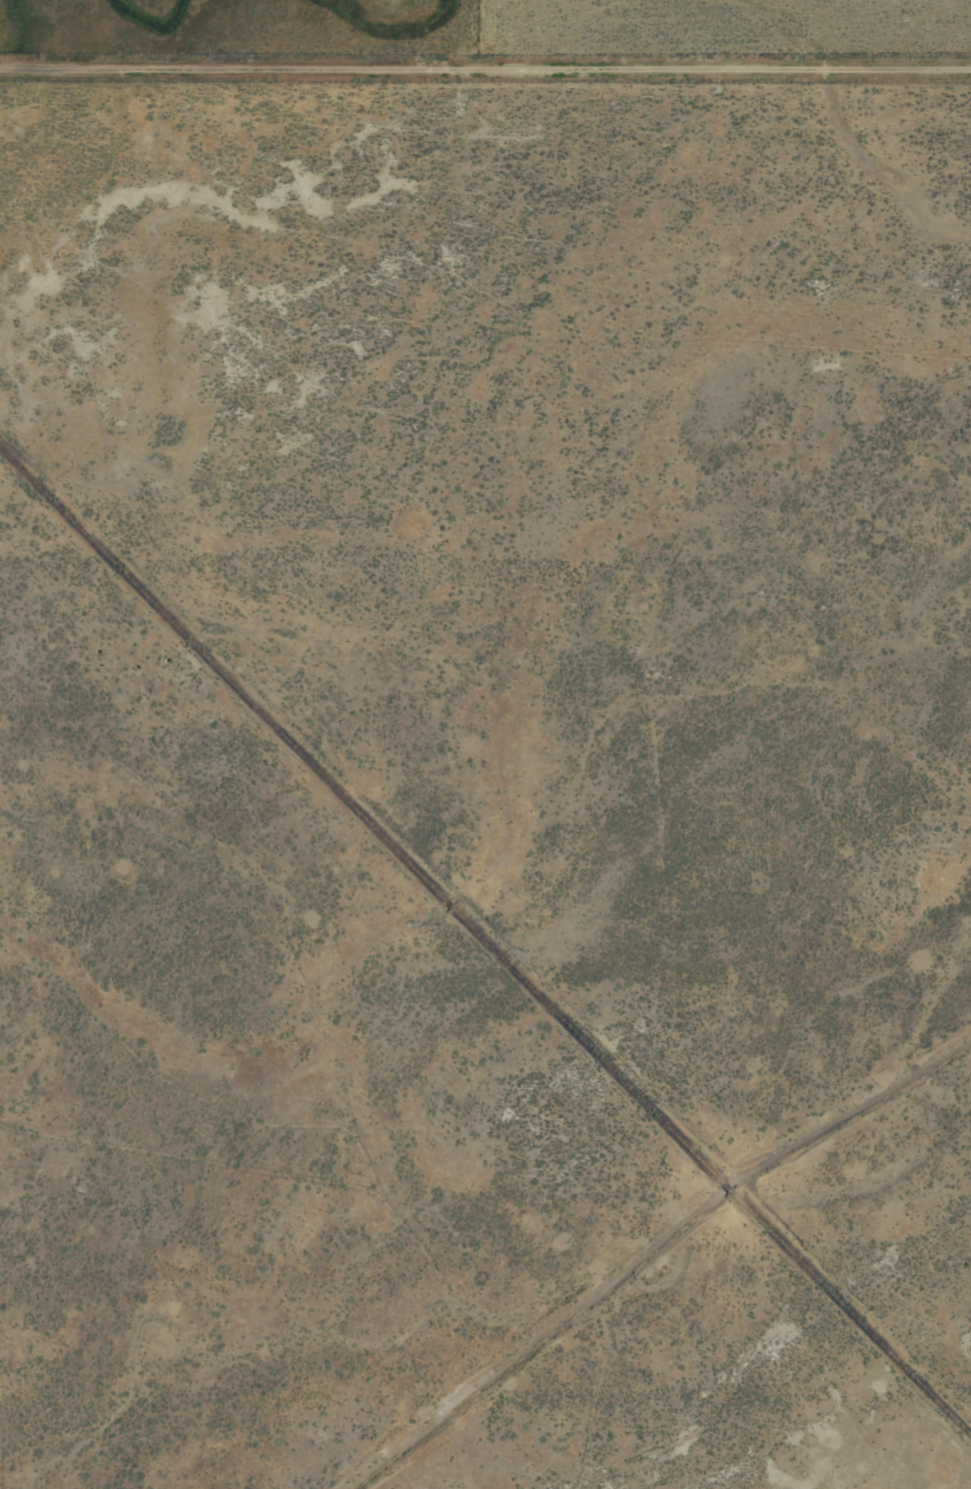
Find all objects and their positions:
road: (485, 66)
crop: (485, 744)
railway: (485, 941)

